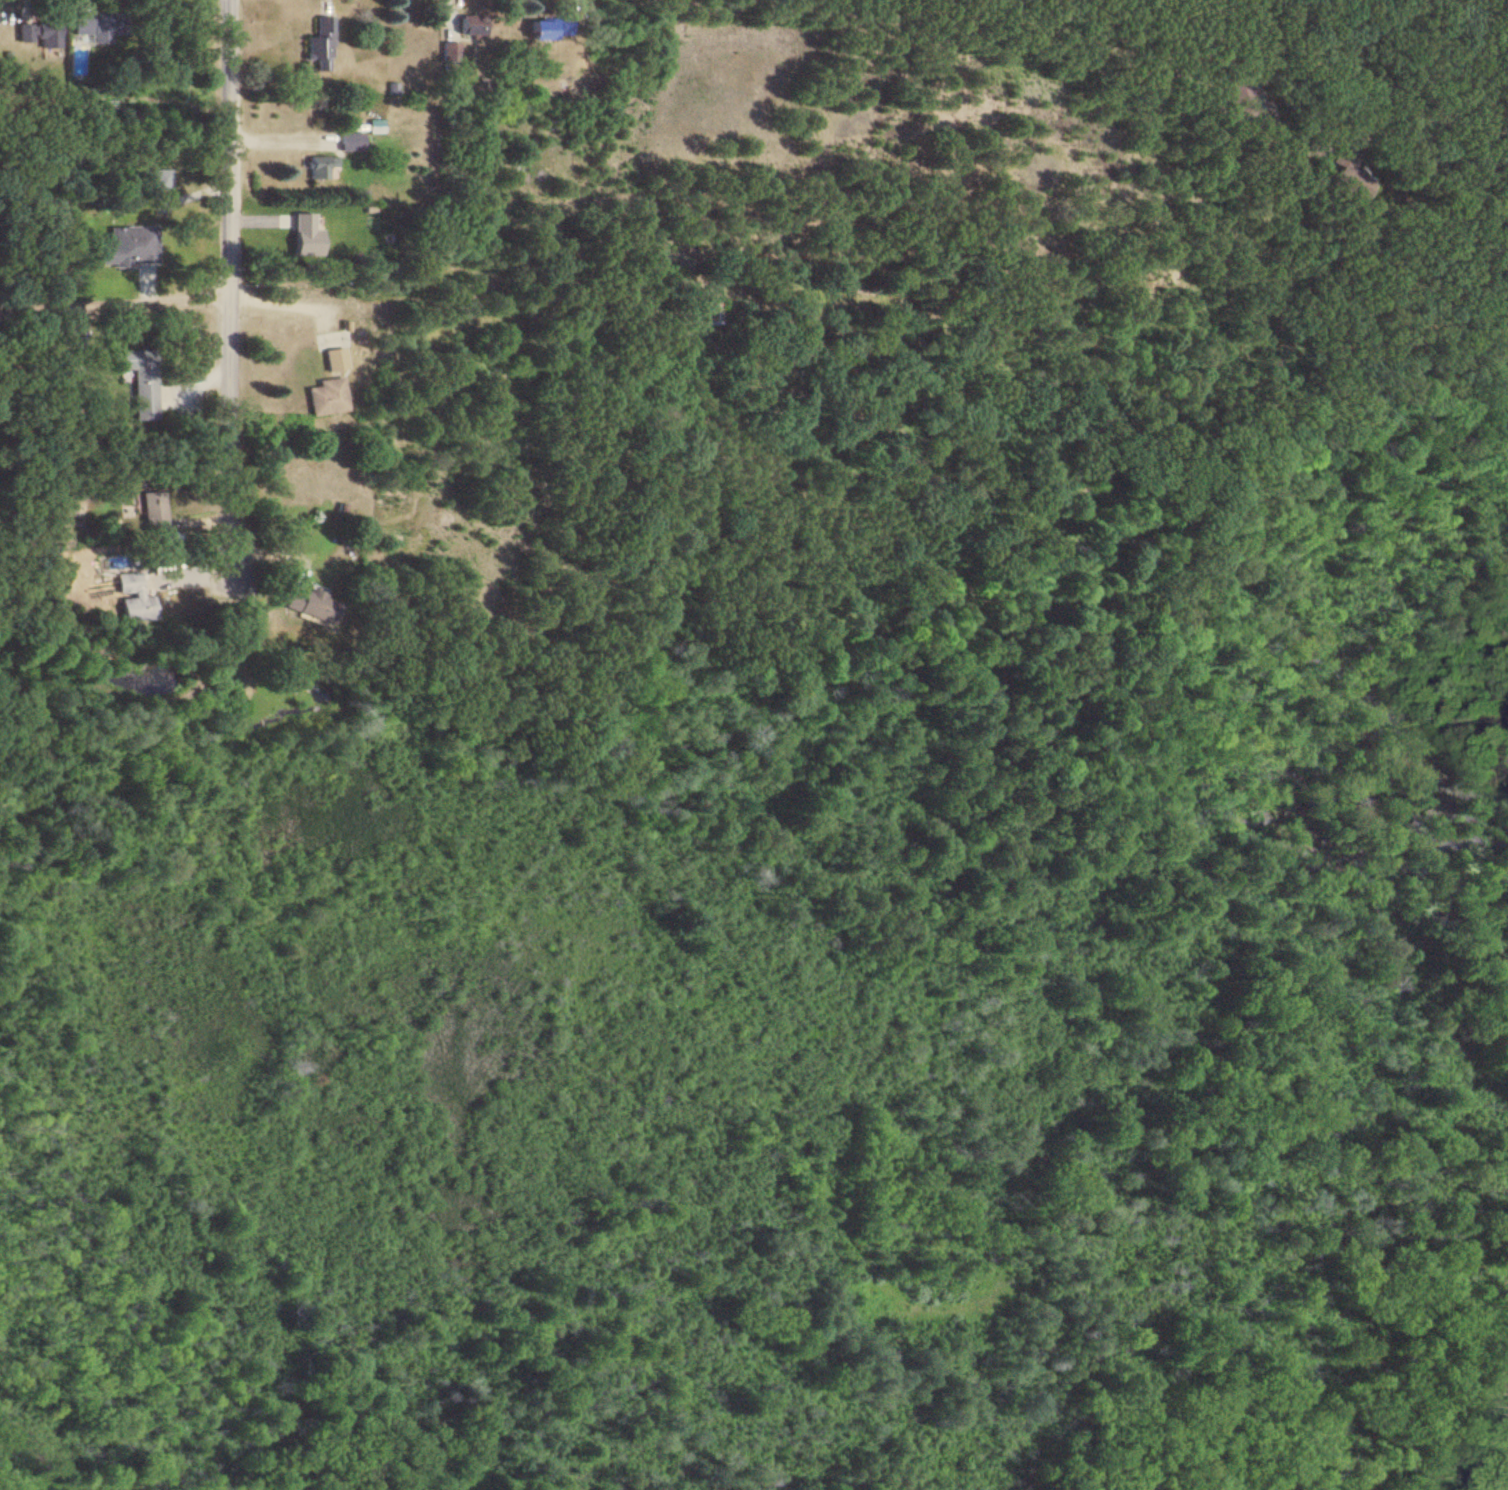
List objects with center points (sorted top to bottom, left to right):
building: (470, 23)
building: (98, 24)
building: (549, 27)
building: (41, 30)
road: (1253, 33)
building: (448, 51)
building: (316, 52)
building: (349, 140)
road: (1314, 146)
building: (321, 166)
building: (1346, 169)
building: (159, 179)
building: (127, 245)
road: (225, 275)
road: (112, 302)
road: (280, 302)
building: (708, 311)
building: (334, 358)
building: (139, 379)
building: (325, 396)
building: (131, 598)
building: (313, 604)

